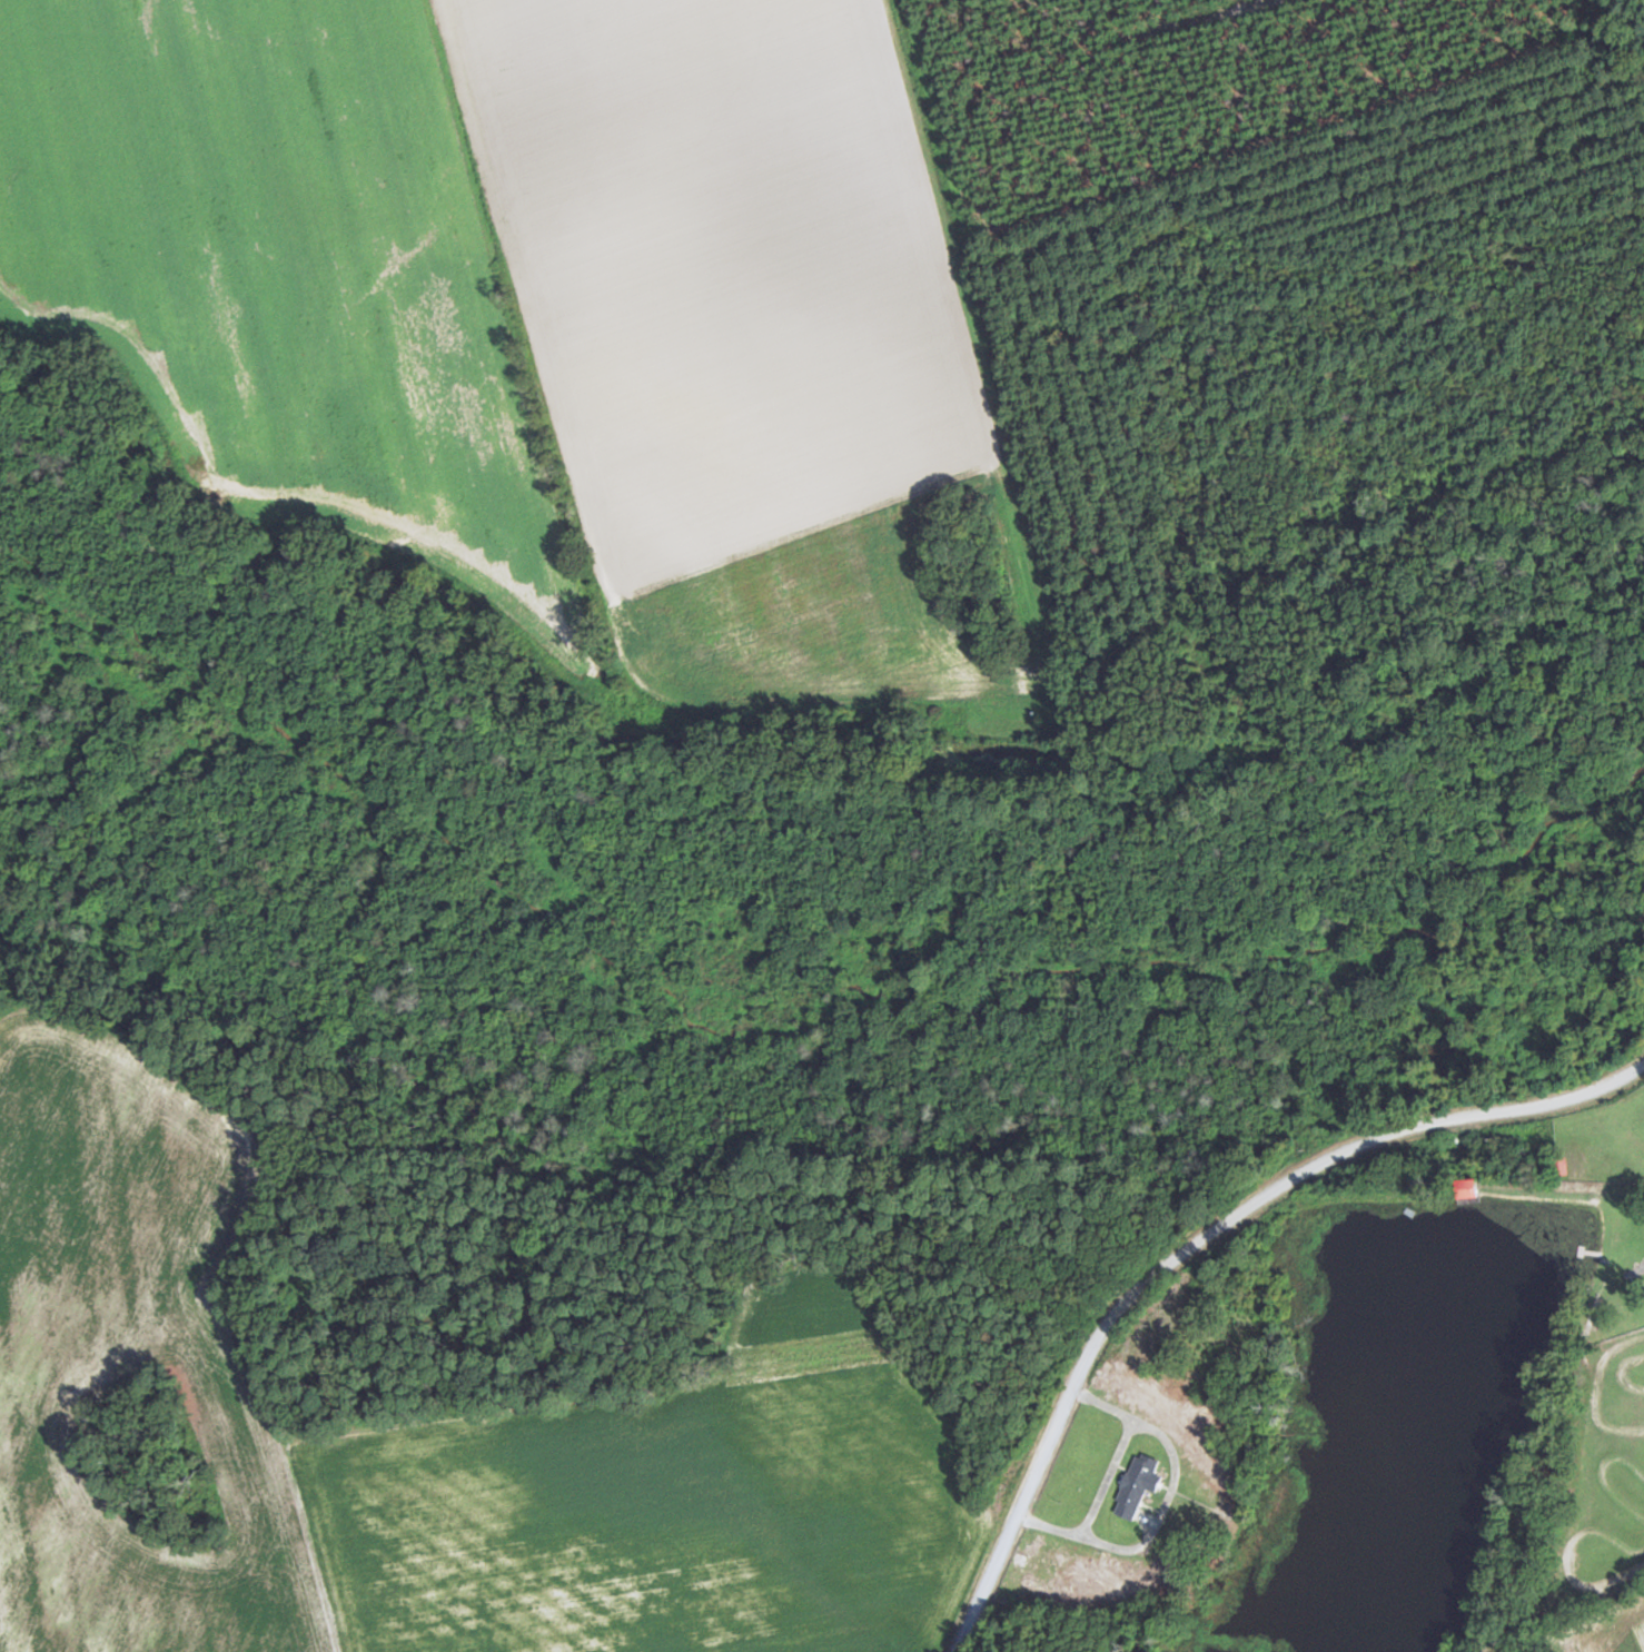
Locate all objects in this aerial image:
road: (1197, 1239)
building: (1139, 1485)

